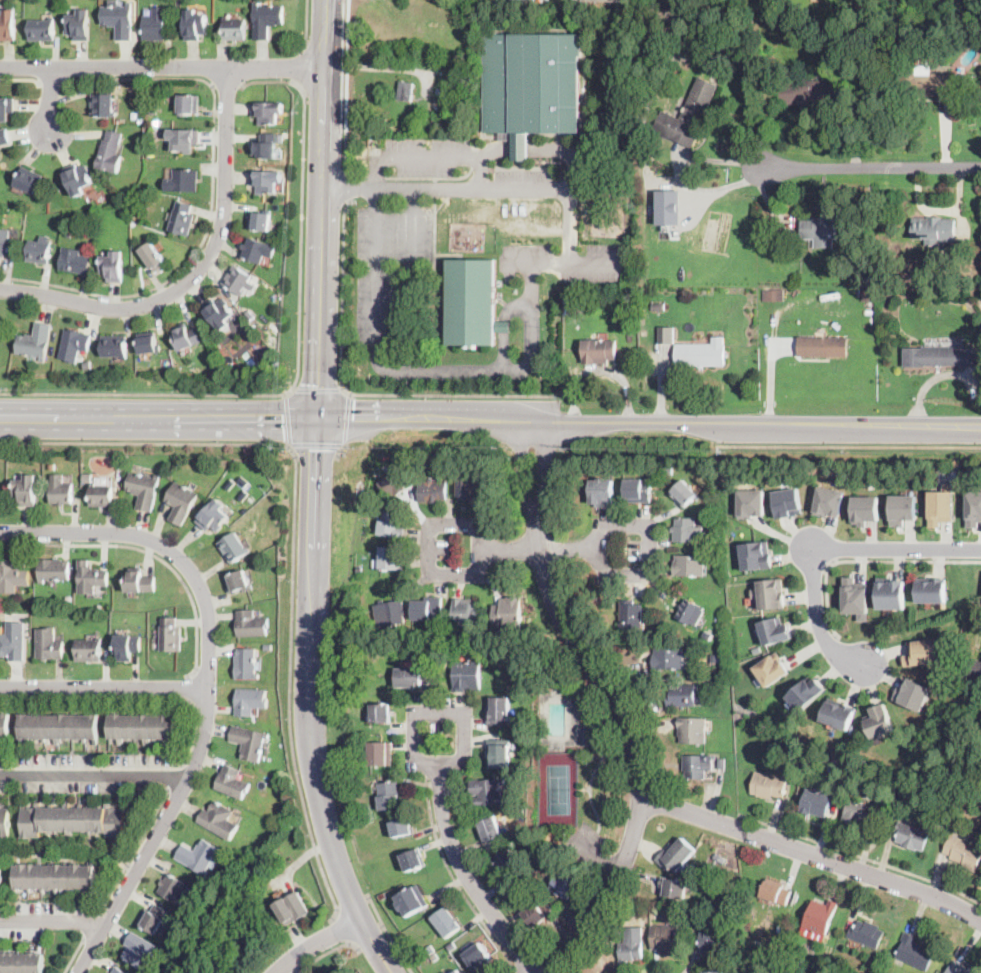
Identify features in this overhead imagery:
building: (610, 0)
building: (675, 5)
building: (118, 19)
building: (267, 20)
road: (306, 21)
building: (79, 23)
building: (155, 24)
building: (196, 24)
building: (8, 25)
building: (650, 27)
building: (841, 27)
building: (42, 29)
building: (234, 29)
building: (975, 34)
building: (843, 48)
building: (642, 53)
road: (305, 64)
road: (162, 67)
road: (21, 77)
road: (50, 80)
building: (924, 81)
road: (226, 84)
building: (532, 84)
building: (405, 91)
building: (439, 92)
building: (807, 92)
road: (344, 93)
building: (980, 93)
road: (52, 99)
building: (188, 104)
building: (103, 105)
building: (5, 108)
building: (140, 111)
building: (154, 111)
building: (268, 112)
building: (689, 116)
building: (151, 128)
building: (4, 137)
building: (183, 140)
building: (266, 146)
road: (527, 147)
building: (110, 153)
parking lot: (415, 155)
road: (430, 156)
road: (323, 157)
road: (870, 168)
road: (375, 172)
building: (78, 178)
building: (29, 180)
building: (182, 181)
building: (266, 181)
parking lot: (522, 182)
road: (348, 184)
road: (481, 189)
road: (211, 197)
building: (668, 206)
road: (938, 208)
building: (182, 218)
building: (260, 220)
road: (412, 225)
building: (828, 227)
building: (934, 230)
building: (68, 233)
building: (5, 242)
building: (871, 249)
building: (257, 250)
building: (38, 251)
building: (154, 257)
building: (75, 261)
parking lot: (565, 262)
parking lot: (386, 264)
road: (562, 264)
building: (112, 267)
road: (375, 267)
road: (198, 271)
building: (237, 280)
building: (863, 281)
building: (774, 295)
building: (868, 295)
building: (566, 297)
building: (472, 301)
building: (658, 307)
building: (219, 312)
building: (250, 316)
road: (502, 324)
building: (667, 333)
building: (186, 336)
building: (36, 341)
building: (74, 344)
building: (148, 344)
building: (115, 346)
building: (822, 346)
building: (599, 351)
road: (298, 352)
building: (701, 354)
building: (942, 356)
building: (88, 365)
road: (319, 366)
road: (600, 368)
road: (493, 372)
road: (317, 389)
road: (349, 392)
road: (158, 417)
road: (287, 418)
traffic signals: (318, 418)
road: (346, 418)
road: (649, 422)
road: (316, 444)
road: (848, 444)
road: (338, 450)
building: (52, 464)
building: (166, 465)
road: (545, 466)
building: (627, 466)
road: (523, 467)
building: (668, 471)
building: (87, 478)
building: (394, 483)
building: (470, 485)
building: (144, 489)
building: (61, 490)
building: (432, 490)
building: (26, 491)
building: (602, 491)
building: (637, 491)
building: (684, 494)
building: (101, 496)
building: (250, 498)
building: (828, 499)
building: (751, 501)
building: (181, 502)
building: (786, 502)
building: (939, 506)
building: (864, 508)
building: (901, 508)
building: (974, 508)
building: (235, 516)
building: (213, 517)
building: (391, 522)
building: (687, 530)
building: (718, 534)
road: (294, 541)
building: (233, 547)
road: (538, 548)
road: (825, 550)
road: (148, 551)
building: (755, 553)
building: (390, 558)
road: (868, 559)
building: (689, 565)
building: (54, 570)
building: (359, 570)
building: (12, 577)
building: (91, 578)
building: (239, 581)
building: (141, 582)
building: (360, 582)
building: (932, 589)
building: (890, 591)
building: (772, 593)
building: (856, 597)
building: (427, 609)
building: (391, 612)
building: (466, 612)
building: (690, 612)
building: (508, 613)
building: (630, 616)
building: (251, 624)
building: (775, 630)
building: (171, 634)
building: (357, 637)
building: (13, 641)
building: (49, 644)
building: (128, 646)
building: (375, 649)
building: (89, 650)
building: (922, 651)
building: (669, 658)
building: (246, 664)
building: (439, 664)
building: (771, 669)
building: (974, 669)
building: (467, 675)
building: (409, 677)
road: (209, 684)
road: (104, 687)
road: (191, 689)
building: (912, 692)
building: (806, 693)
building: (682, 695)
road: (129, 700)
building: (251, 701)
road: (310, 703)
road: (437, 710)
building: (498, 711)
building: (838, 712)
building: (381, 713)
building: (880, 720)
building: (5, 727)
building: (61, 728)
building: (144, 728)
building: (692, 729)
building: (587, 735)
building: (250, 742)
road: (637, 747)
building: (381, 753)
building: (499, 754)
building: (722, 764)
building: (697, 765)
road: (94, 776)
road: (174, 778)
building: (353, 781)
building: (232, 782)
building: (768, 785)
building: (487, 793)
building: (389, 795)
building: (815, 802)
building: (935, 808)
building: (519, 810)
building: (861, 814)
building: (220, 820)
building: (73, 821)
building: (4, 823)
building: (402, 827)
building: (490, 829)
building: (909, 836)
building: (512, 845)
road: (133, 852)
road: (862, 853)
building: (964, 853)
road: (813, 854)
building: (676, 855)
building: (198, 856)
building: (719, 859)
building: (413, 860)
building: (507, 863)
building: (710, 867)
building: (535, 868)
road: (465, 875)
building: (54, 877)
building: (526, 880)
road: (454, 881)
building: (734, 881)
building: (564, 885)
building: (674, 888)
building: (174, 889)
building: (775, 892)
building: (411, 900)
road: (352, 903)
building: (293, 906)
building: (196, 907)
building: (537, 914)
building: (820, 916)
building: (154, 918)
road: (52, 922)
building: (447, 922)
road: (90, 926)
road: (341, 930)
building: (867, 933)
road: (389, 935)
road: (370, 938)
building: (666, 939)
building: (711, 940)
road: (318, 943)
building: (632, 945)
building: (451, 947)
building: (142, 950)
building: (429, 950)
building: (914, 952)
road: (328, 953)
road: (75, 955)
building: (479, 958)
building: (436, 959)
building: (21, 962)
building: (960, 968)
building: (118, 970)
building: (162, 971)
building: (451, 972)
building: (457, 972)
building: (715, 972)

